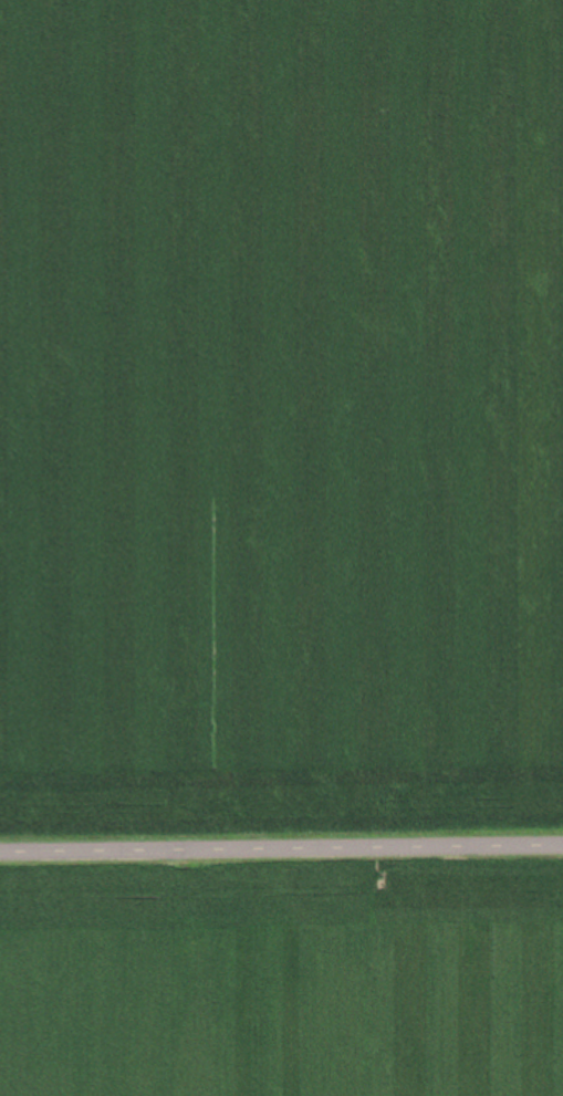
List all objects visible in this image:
road: (281, 852)

